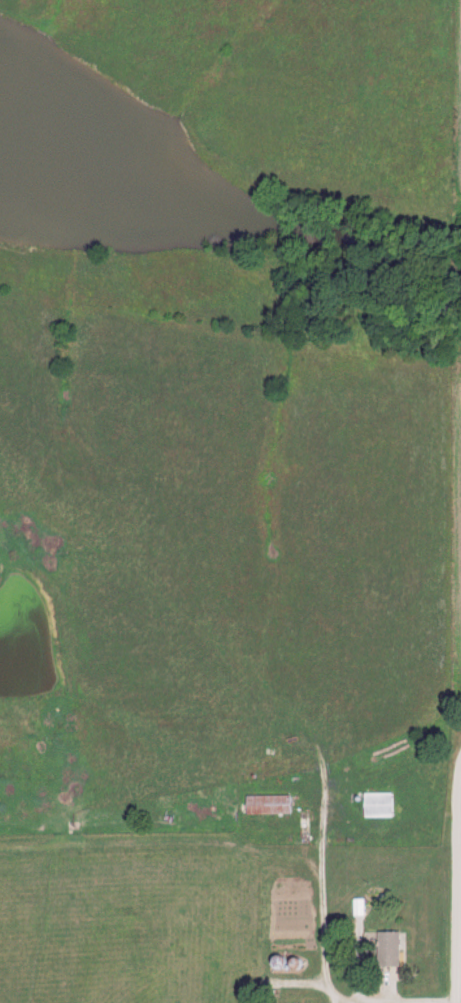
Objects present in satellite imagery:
building: (265, 803)
building: (375, 803)
building: (386, 947)

